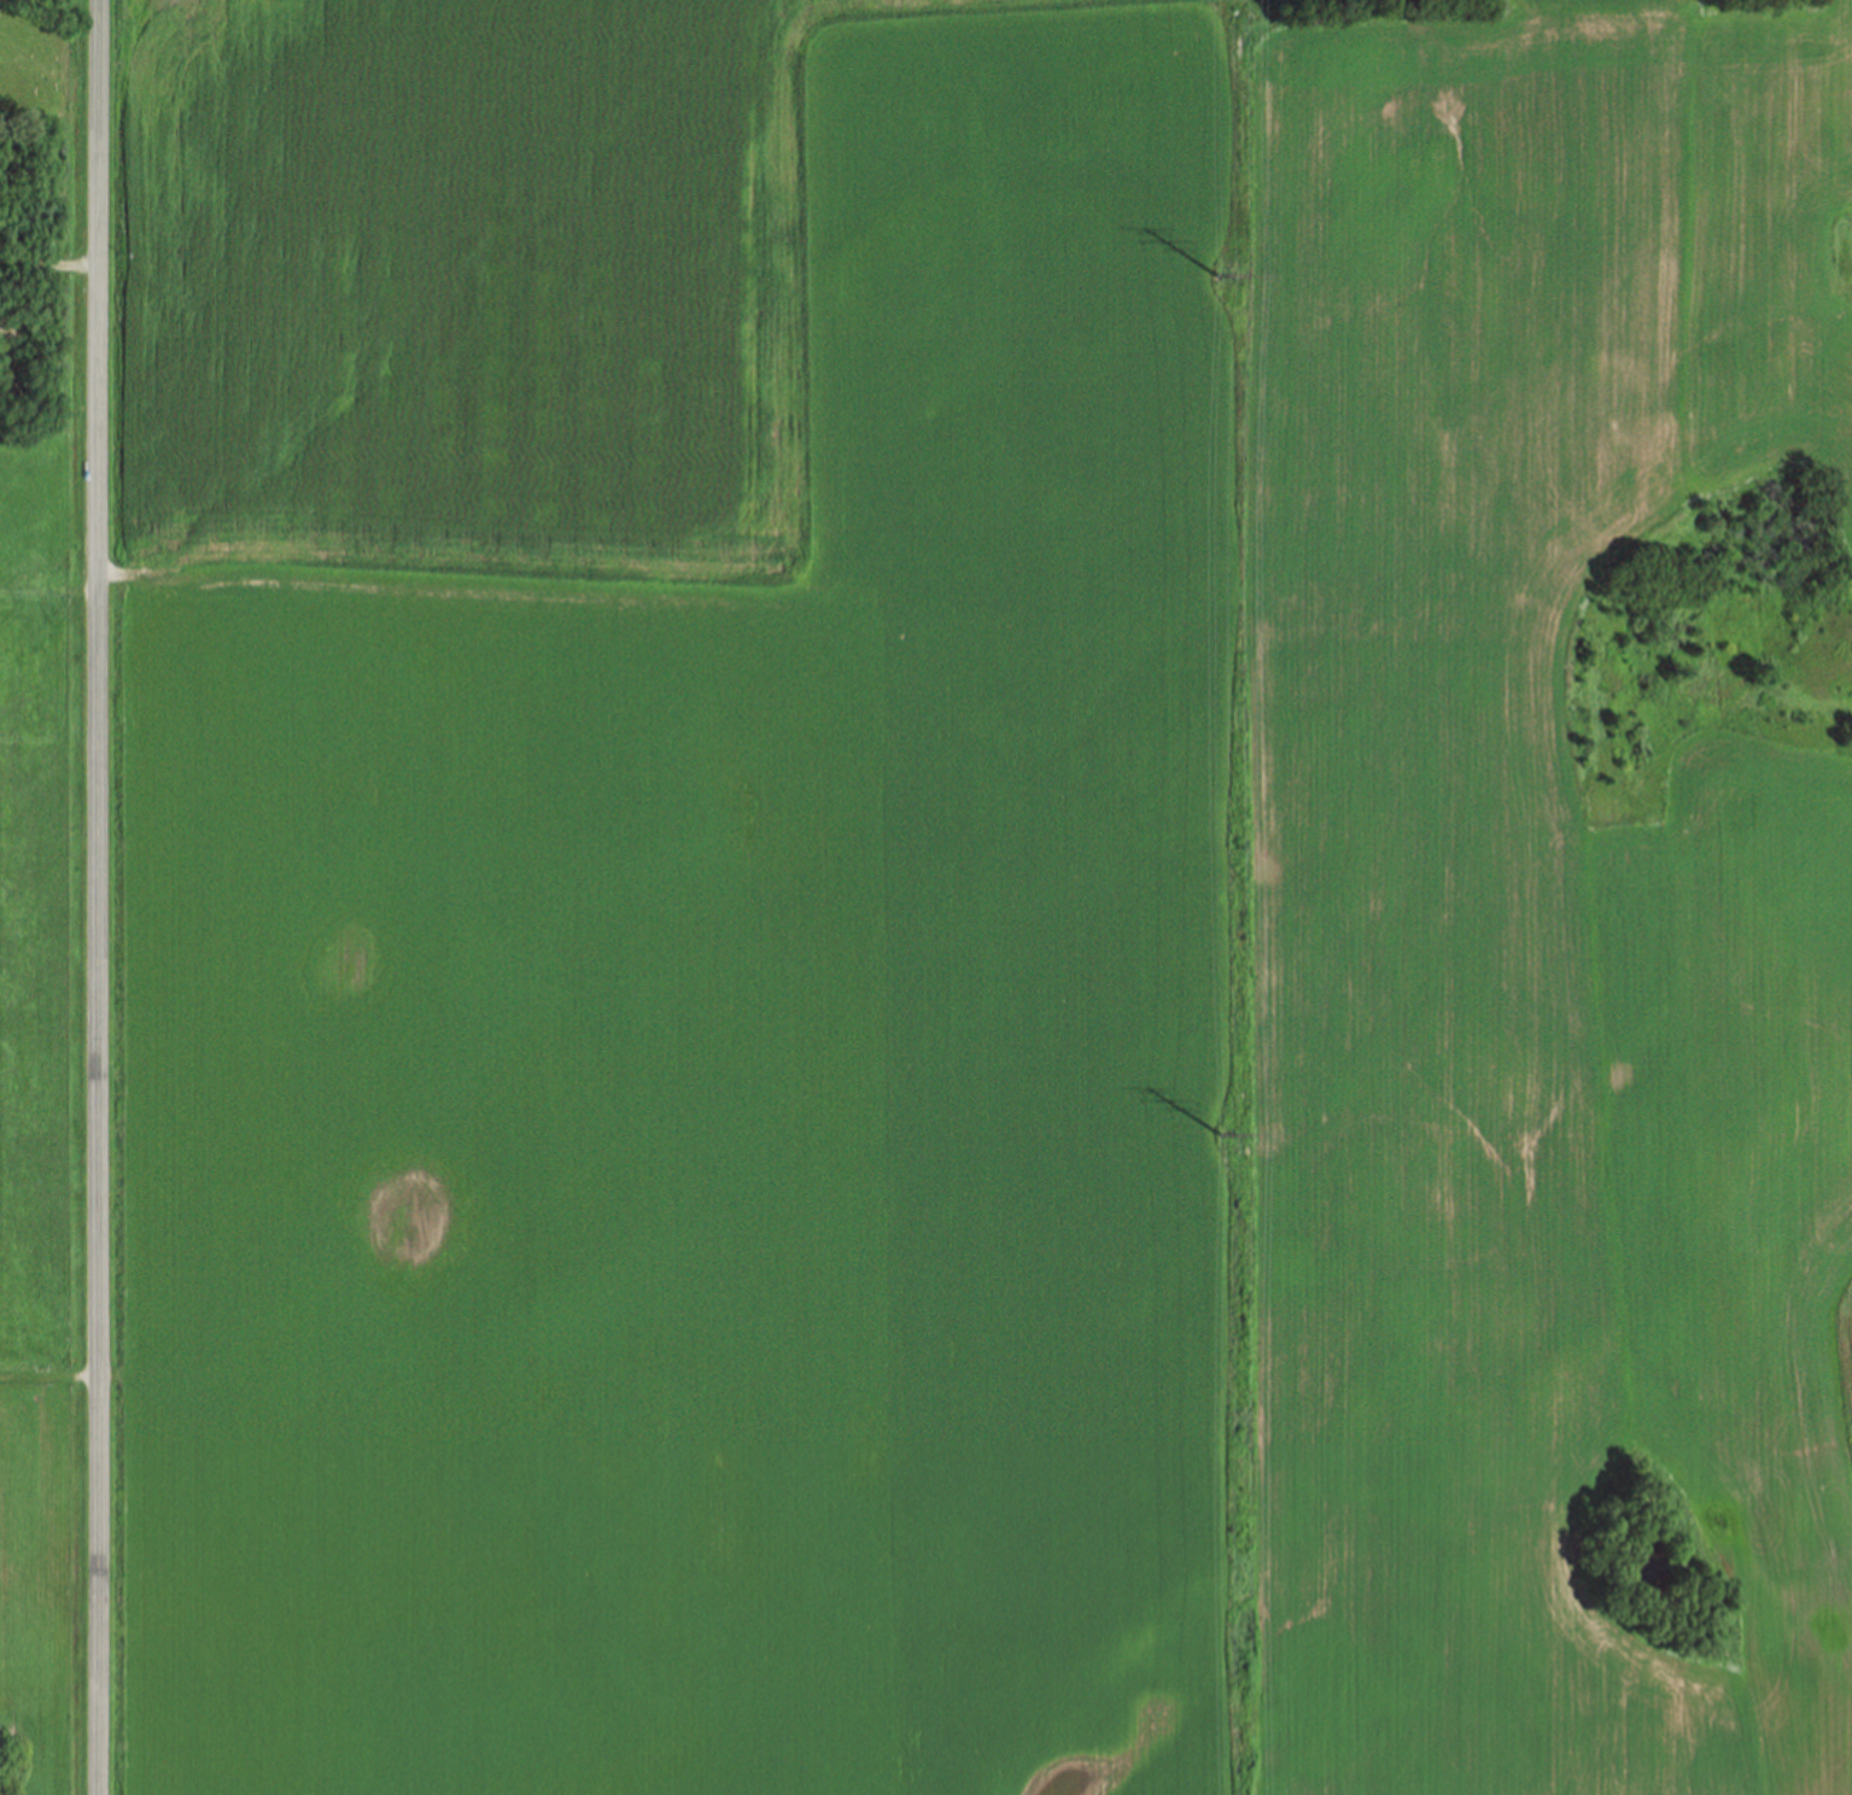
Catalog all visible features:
road: (47, 267)
power tower: (1217, 280)
building: (10, 333)
road: (95, 896)
power tower: (1219, 1140)

